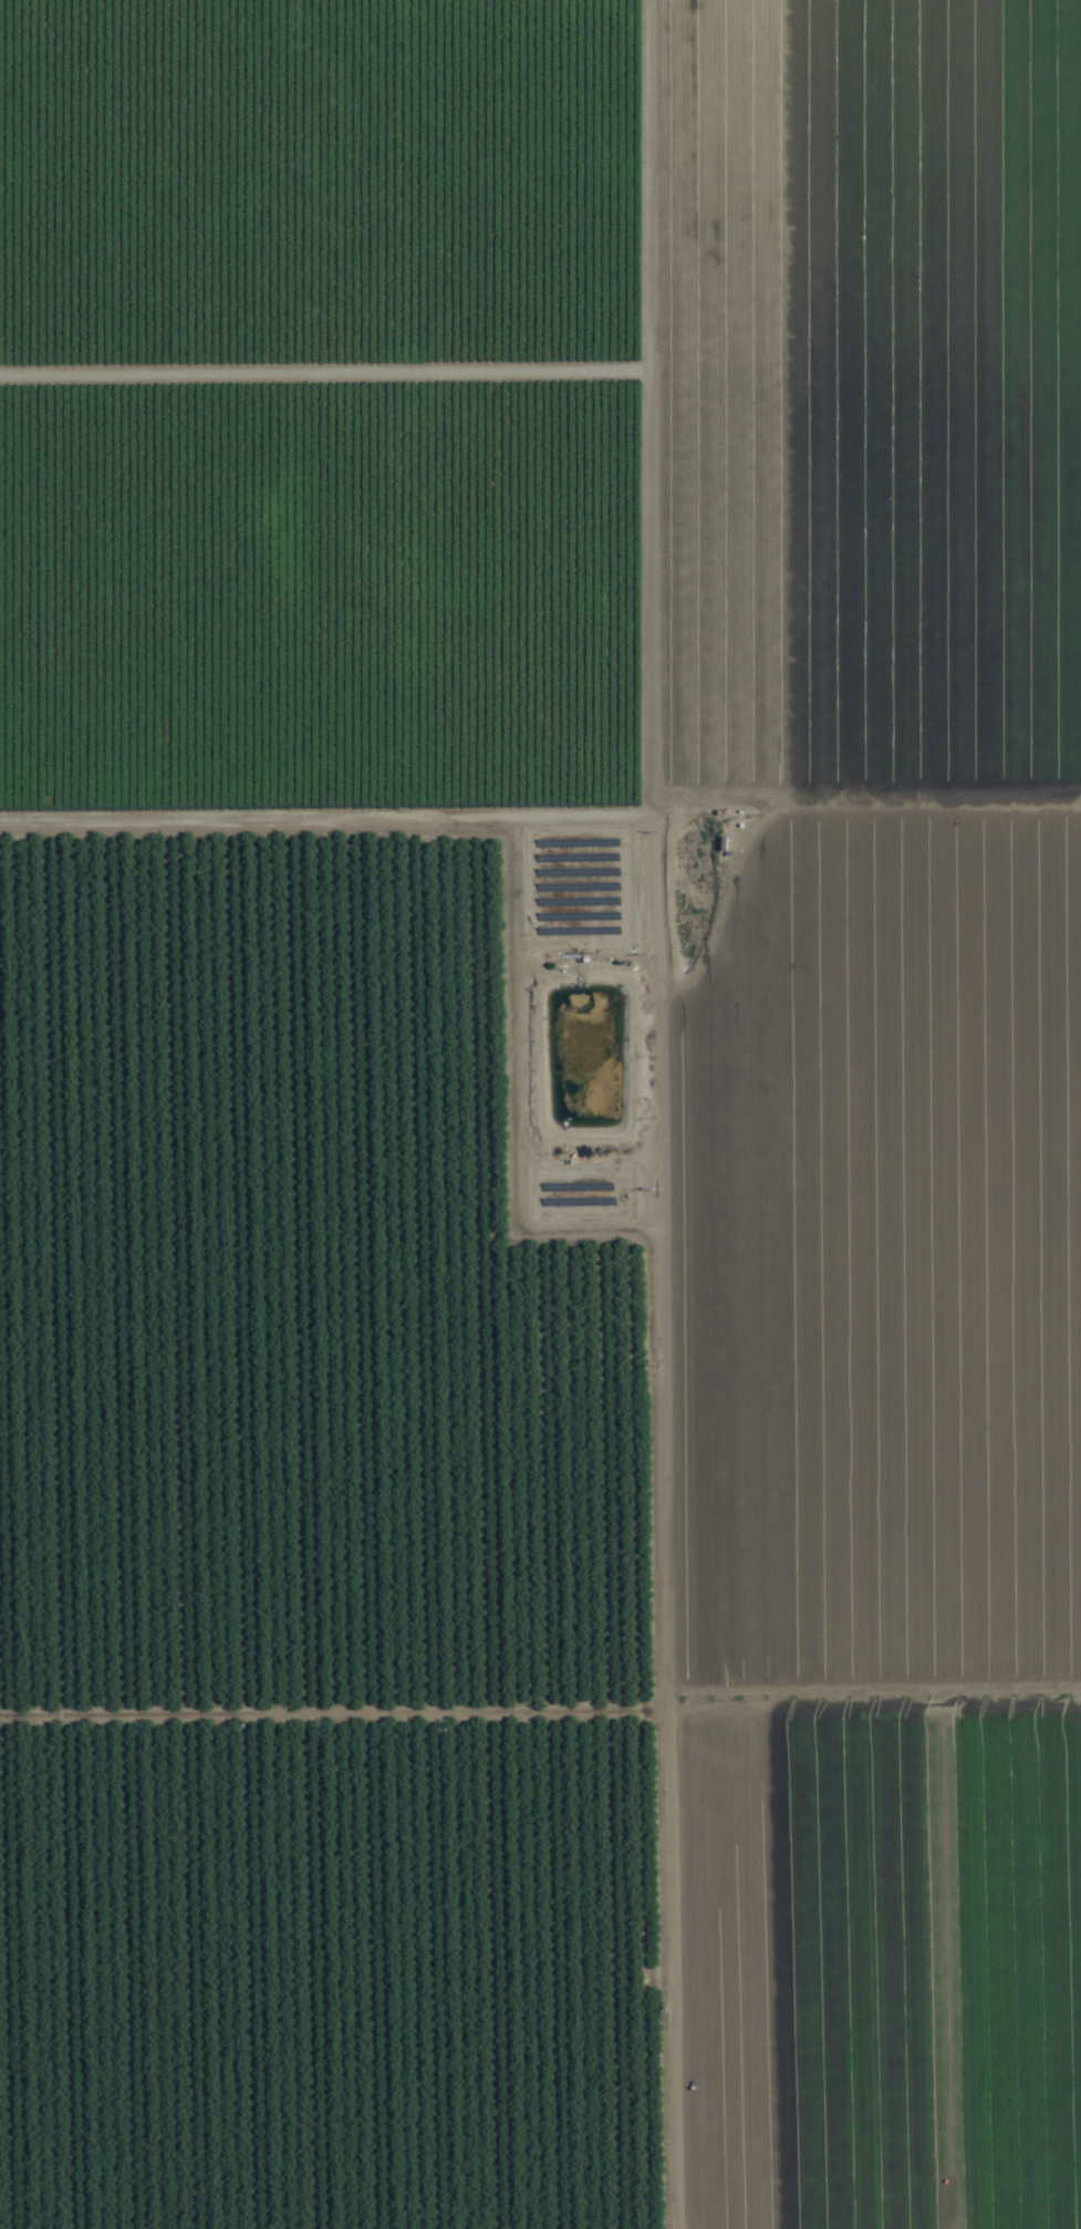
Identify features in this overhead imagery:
road: (737, 328)
road: (872, 799)
wastewater plant: (578, 1059)
road: (664, 1113)
crop: (540, 1114)

